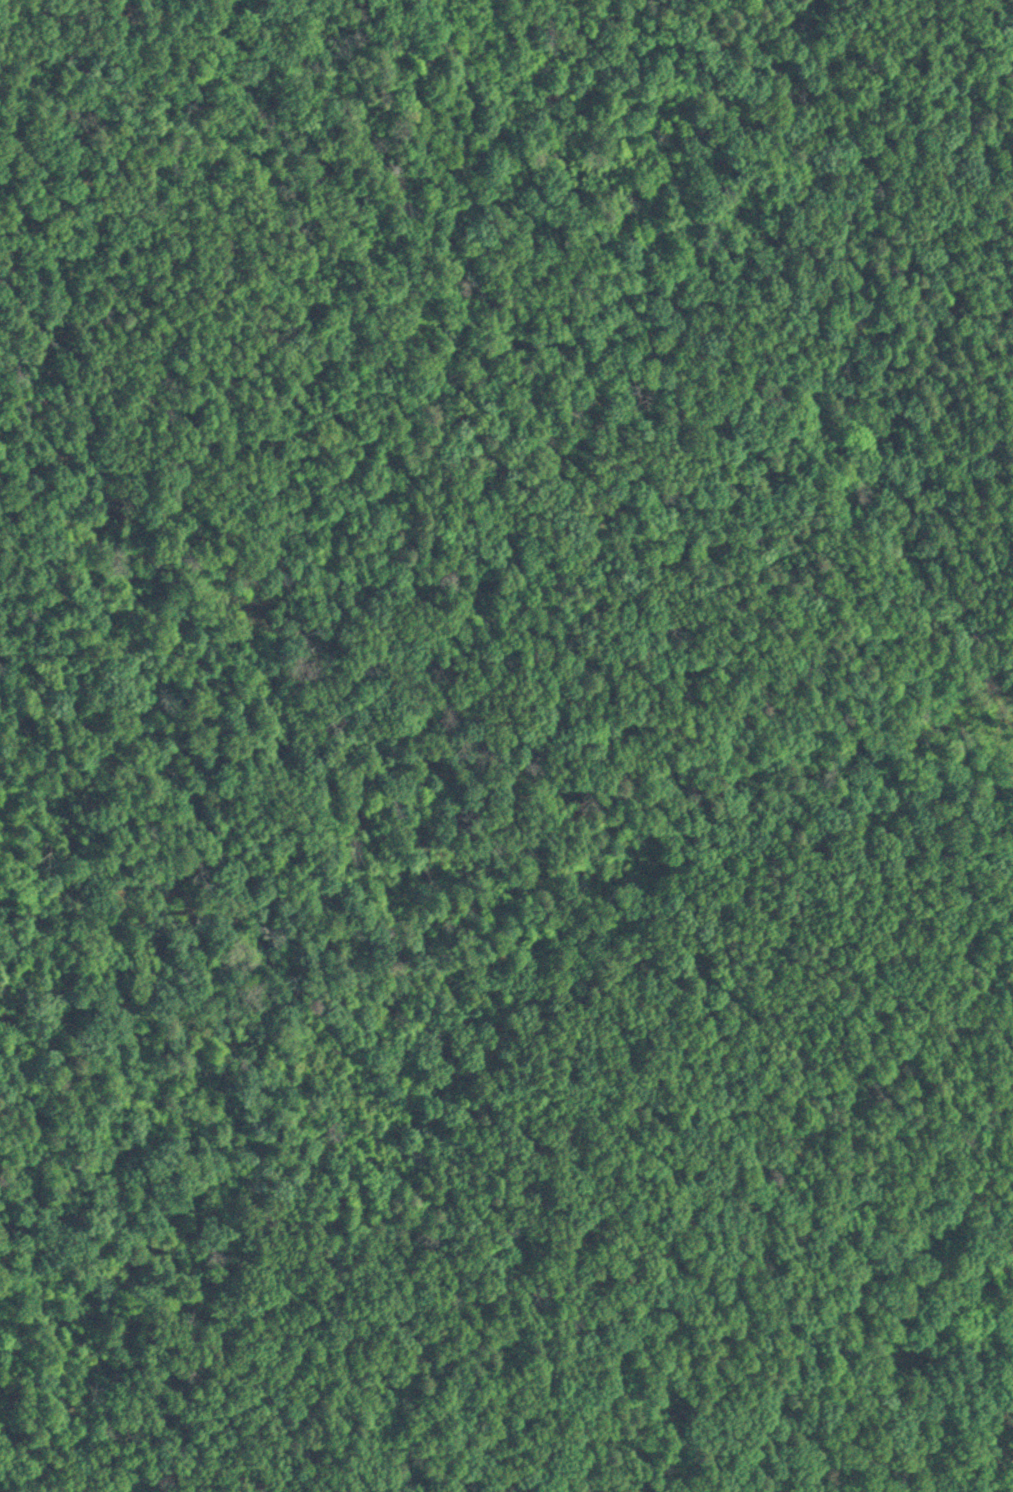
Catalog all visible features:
road: (915, 871)

